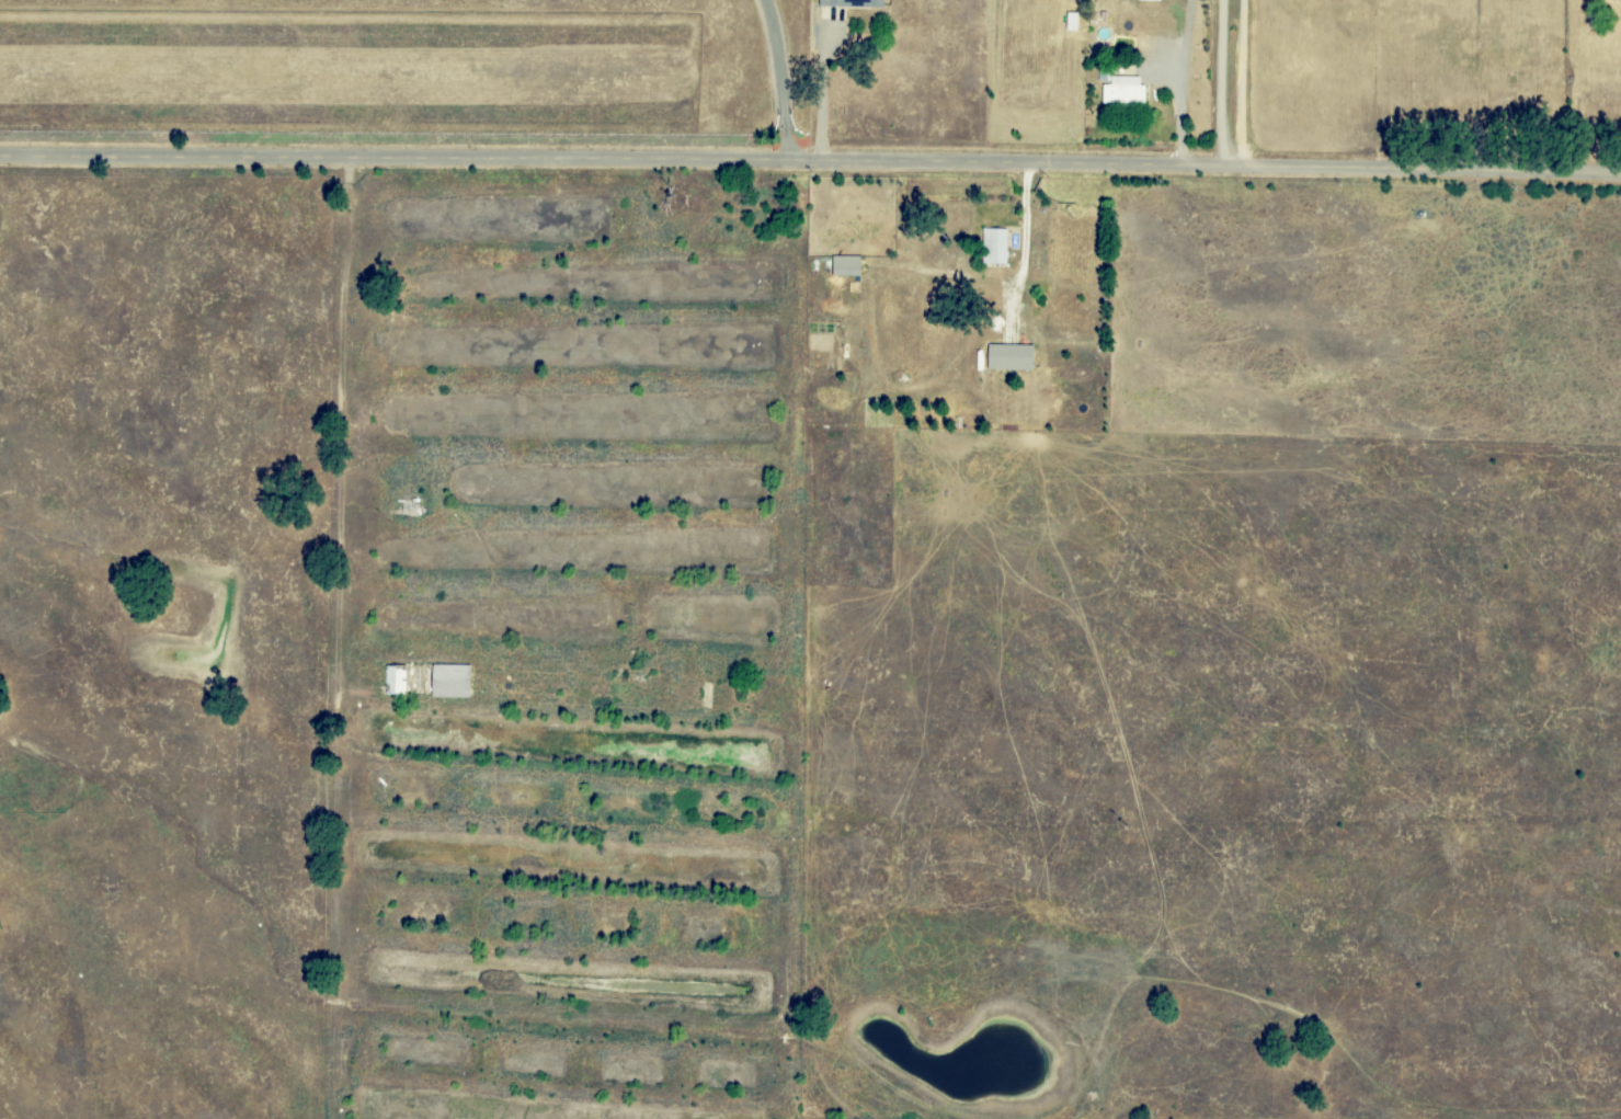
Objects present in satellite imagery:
building: (852, 3)
road: (776, 79)
road: (1180, 81)
road: (1222, 81)
road: (1242, 82)
building: (1123, 91)
road: (810, 159)
road: (1026, 241)
building: (993, 247)
building: (845, 266)
building: (1008, 357)
road: (340, 638)
building: (395, 680)
building: (450, 681)

